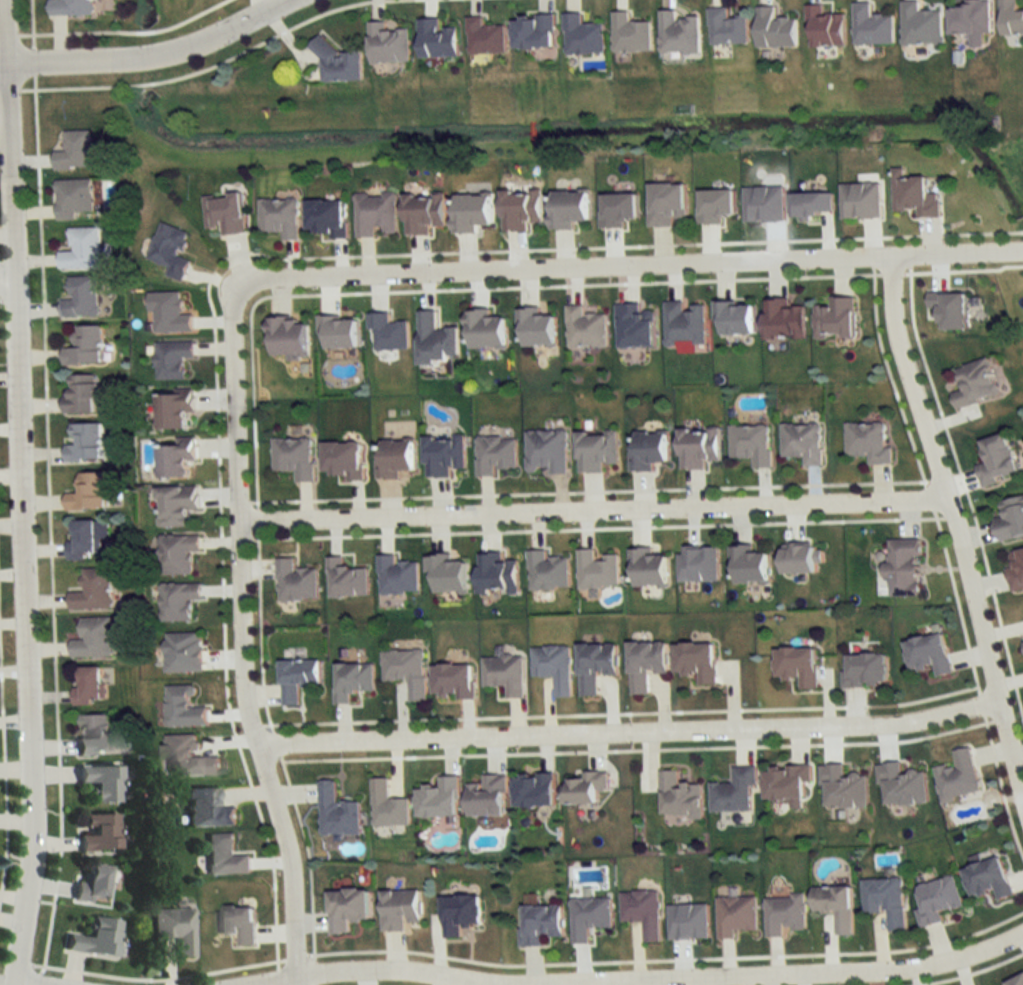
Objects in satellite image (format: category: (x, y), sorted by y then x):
building: (70, 7)
road: (196, 13)
building: (972, 18)
building: (1012, 18)
road: (32, 24)
building: (921, 24)
building: (873, 26)
building: (727, 27)
building: (826, 28)
building: (775, 29)
road: (142, 31)
road: (68, 32)
building: (534, 32)
road: (9, 34)
building: (630, 34)
building: (679, 34)
building: (582, 36)
building: (485, 37)
building: (436, 40)
building: (388, 45)
road: (148, 56)
road: (33, 61)
building: (337, 64)
road: (206, 67)
road: (10, 90)
building: (75, 150)
building: (914, 195)
building: (73, 198)
building: (861, 200)
building: (666, 203)
building: (812, 203)
building: (764, 204)
building: (520, 208)
building: (569, 208)
building: (472, 211)
building: (226, 212)
building: (423, 212)
building: (376, 213)
building: (280, 216)
building: (327, 217)
building: (81, 250)
building: (171, 250)
road: (262, 254)
road: (637, 264)
road: (963, 269)
road: (891, 273)
road: (6, 280)
road: (462, 288)
building: (81, 297)
road: (0, 299)
building: (169, 313)
building: (735, 316)
building: (835, 318)
building: (783, 319)
building: (685, 323)
building: (635, 326)
building: (536, 327)
building: (586, 328)
building: (486, 329)
building: (340, 331)
building: (388, 332)
building: (288, 335)
building: (436, 338)
building: (84, 345)
building: (173, 358)
road: (890, 378)
building: (976, 383)
building: (81, 393)
building: (174, 409)
building: (83, 441)
building: (803, 442)
building: (868, 442)
building: (752, 444)
building: (698, 447)
building: (649, 449)
building: (597, 450)
building: (547, 451)
building: (496, 454)
building: (444, 455)
building: (176, 456)
building: (295, 456)
building: (395, 457)
building: (343, 458)
building: (998, 459)
road: (590, 490)
building: (88, 492)
road: (20, 493)
road: (966, 493)
road: (929, 496)
building: (177, 505)
road: (593, 509)
road: (257, 519)
building: (1011, 519)
road: (49, 524)
road: (597, 527)
road: (957, 527)
building: (83, 538)
building: (178, 553)
building: (799, 558)
building: (699, 563)
building: (749, 565)
building: (904, 566)
building: (648, 567)
building: (598, 570)
building: (548, 571)
building: (1016, 571)
building: (497, 573)
building: (448, 574)
building: (397, 576)
building: (347, 579)
building: (296, 582)
building: (92, 590)
road: (956, 600)
building: (178, 601)
road: (242, 631)
road: (259, 631)
building: (93, 639)
building: (1022, 642)
building: (183, 652)
building: (929, 653)
building: (697, 661)
building: (646, 663)
building: (595, 665)
building: (554, 666)
building: (798, 666)
building: (865, 669)
building: (406, 670)
building: (505, 673)
building: (297, 678)
building: (353, 679)
building: (453, 681)
building: (88, 686)
road: (980, 703)
building: (183, 707)
road: (620, 712)
building: (93, 733)
road: (629, 733)
road: (275, 742)
road: (633, 748)
building: (187, 756)
building: (957, 775)
road: (2, 778)
building: (98, 781)
building: (787, 782)
building: (902, 785)
building: (585, 787)
road: (1000, 787)
building: (844, 788)
building: (535, 789)
building: (734, 791)
building: (487, 796)
building: (679, 796)
building: (439, 798)
building: (388, 805)
building: (205, 808)
building: (337, 812)
building: (95, 832)
building: (223, 855)
road: (307, 855)
building: (989, 879)
building: (90, 883)
building: (937, 899)
building: (886, 900)
building: (835, 906)
building: (347, 908)
building: (399, 908)
building: (642, 912)
building: (460, 913)
building: (785, 914)
building: (735, 915)
building: (589, 917)
building: (688, 921)
building: (539, 923)
building: (237, 924)
building: (173, 929)
building: (93, 938)
road: (294, 957)
road: (667, 959)
road: (312, 971)
road: (396, 971)
road: (970, 972)
road: (776, 975)
road: (156, 977)
road: (276, 977)
road: (36, 978)
road: (271, 980)
building: (1016, 981)
road: (30, 982)
road: (313, 984)

